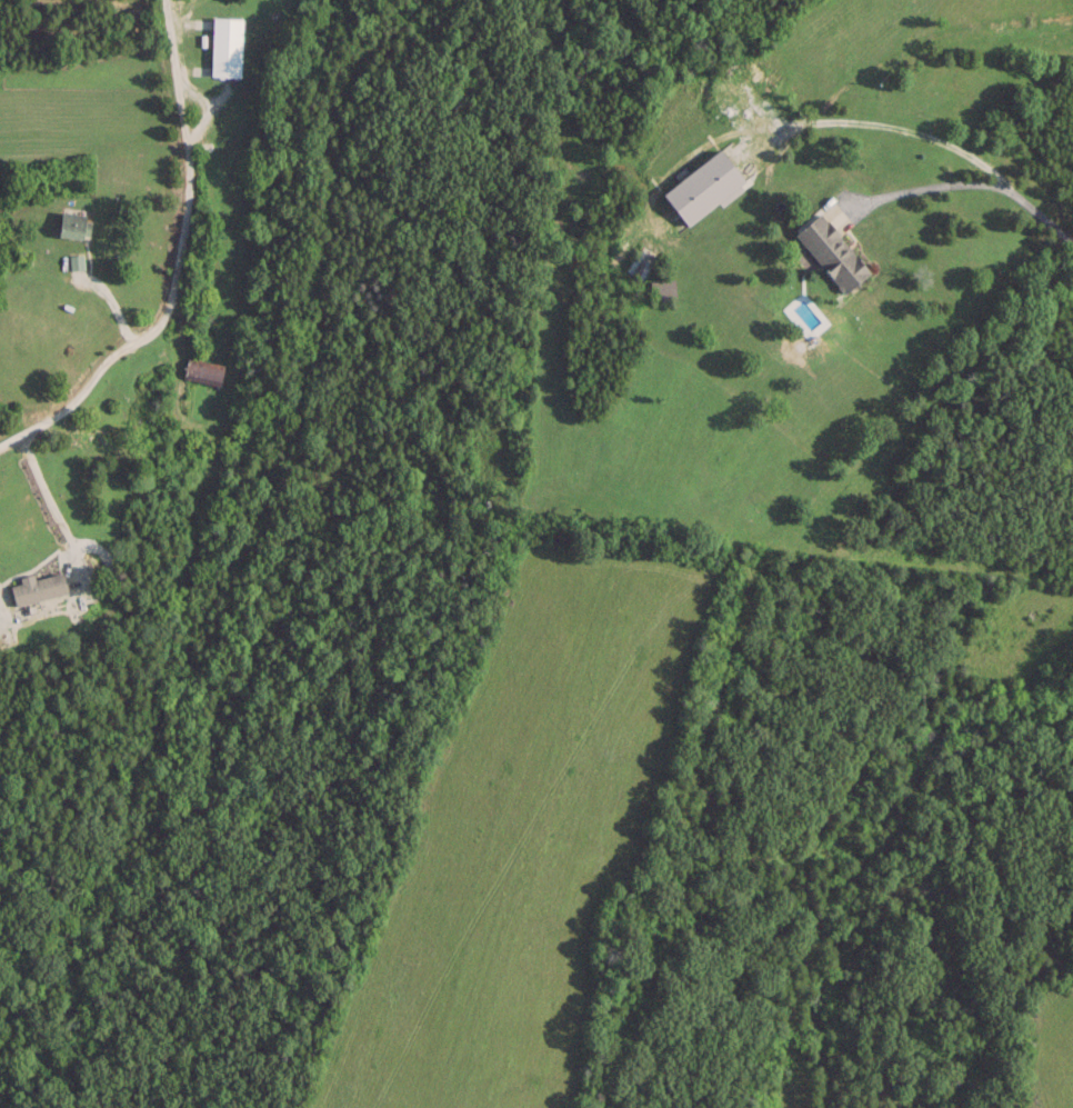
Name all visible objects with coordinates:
building: (225, 44)
road: (927, 141)
building: (704, 186)
road: (919, 191)
building: (73, 223)
building: (833, 251)
road: (193, 259)
building: (74, 260)
road: (109, 269)
building: (203, 372)
building: (140, 400)
building: (38, 588)

